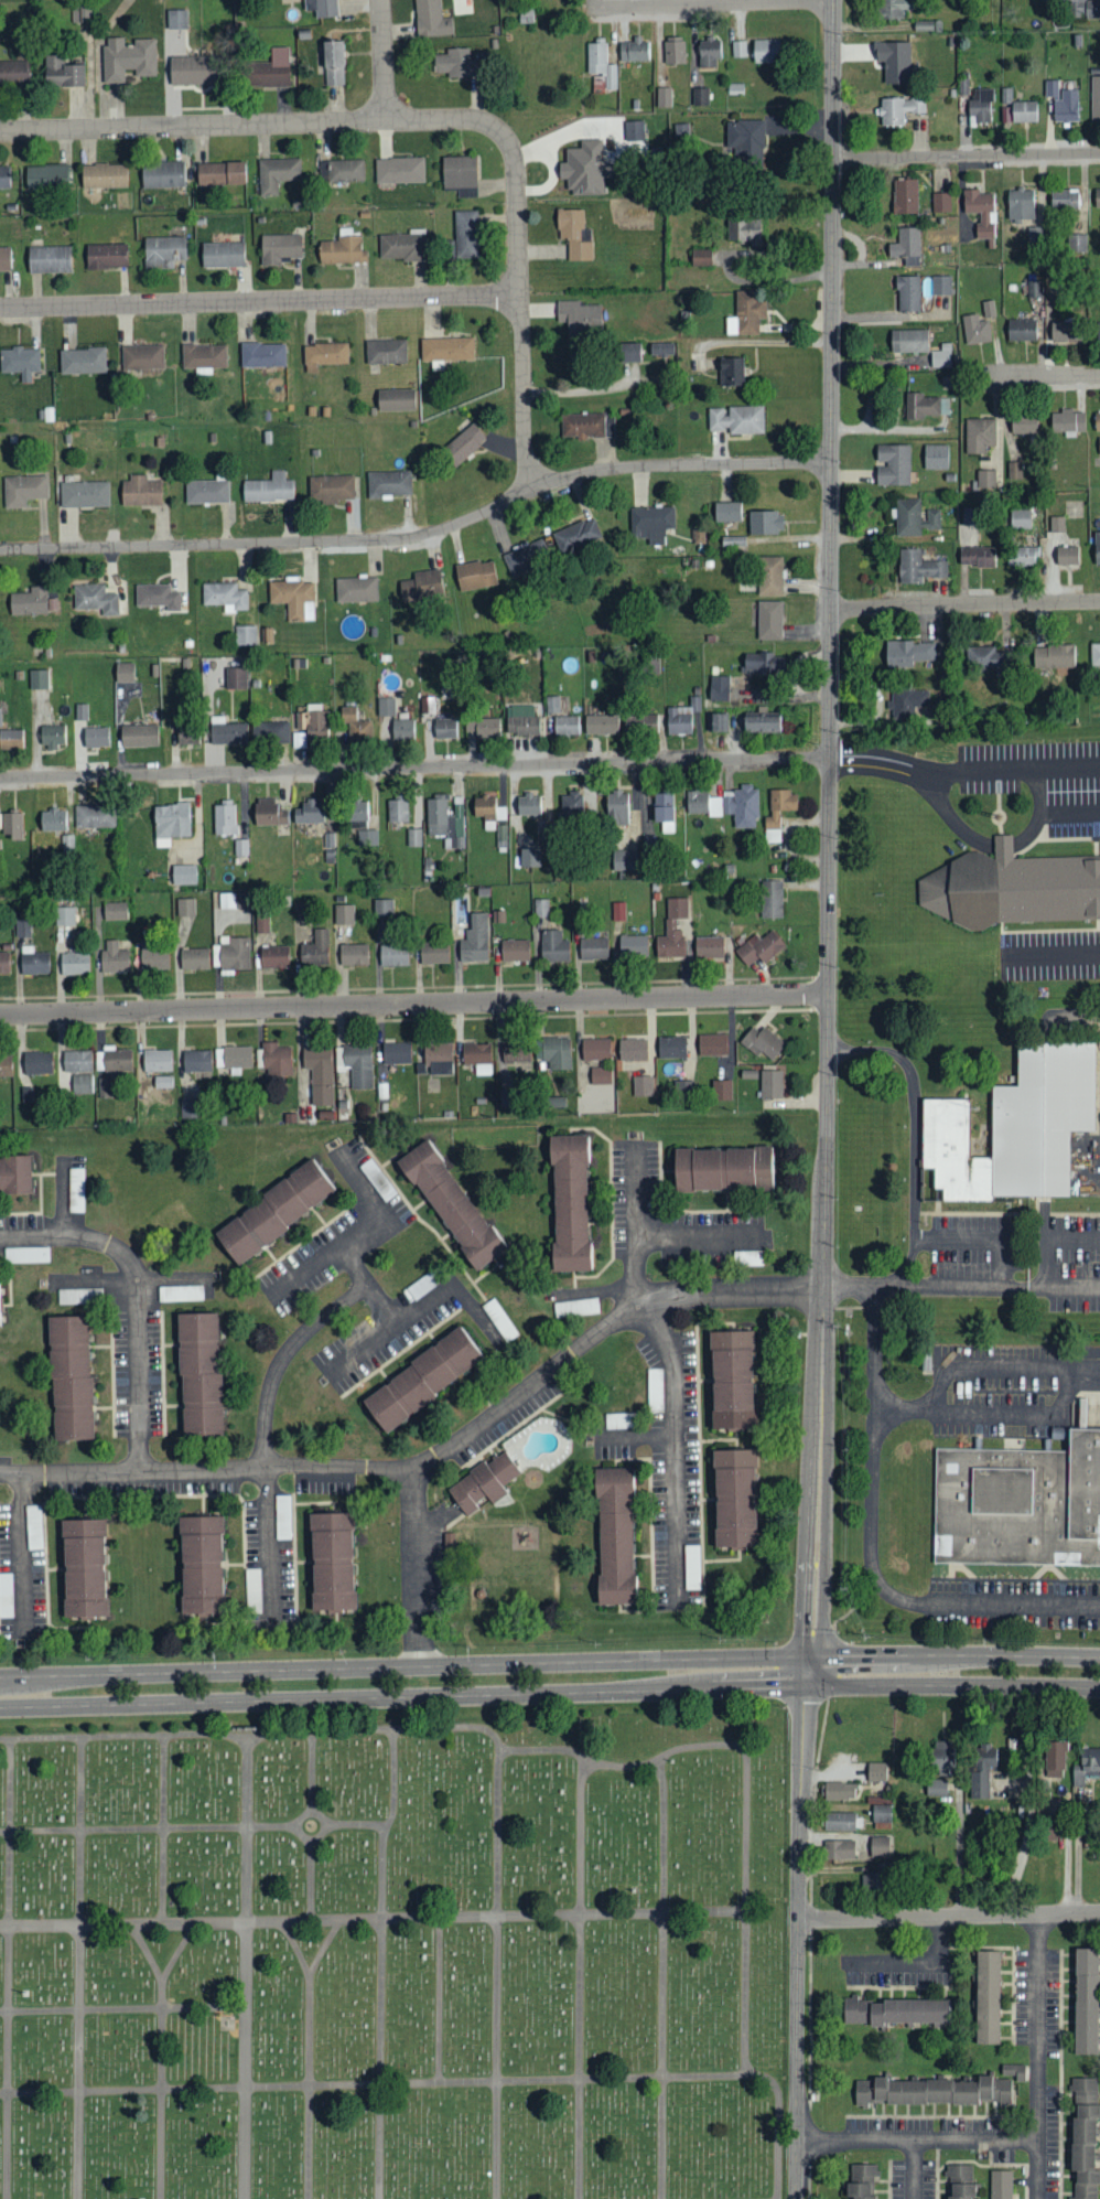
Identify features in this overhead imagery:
road: (589, 4)
road: (711, 6)
building: (995, 7)
building: (322, 8)
building: (1081, 8)
building: (892, 9)
building: (176, 19)
building: (431, 20)
building: (738, 49)
building: (635, 51)
building: (673, 51)
building: (765, 52)
building: (709, 53)
building: (128, 60)
road: (382, 60)
building: (894, 63)
building: (332, 64)
building: (459, 64)
building: (601, 64)
building: (273, 69)
building: (196, 71)
building: (13, 74)
building: (62, 74)
building: (1052, 88)
building: (701, 96)
building: (1006, 97)
building: (664, 98)
building: (1096, 99)
building: (1067, 106)
building: (981, 107)
building: (898, 110)
building: (1024, 111)
road: (252, 124)
building: (681, 130)
building: (635, 131)
building: (746, 146)
road: (967, 155)
building: (585, 169)
building: (345, 171)
building: (399, 171)
building: (220, 174)
building: (277, 174)
building: (163, 175)
building: (460, 175)
building: (4, 176)
building: (104, 176)
building: (46, 178)
building: (905, 197)
building: (1064, 200)
building: (1097, 200)
building: (941, 203)
building: (1021, 204)
building: (981, 212)
building: (744, 232)
building: (466, 235)
building: (574, 235)
building: (1077, 242)
building: (403, 246)
building: (907, 247)
building: (279, 248)
building: (342, 251)
building: (163, 253)
building: (223, 255)
building: (106, 257)
building: (701, 257)
building: (4, 259)
building: (48, 260)
building: (941, 285)
building: (1035, 288)
building: (908, 292)
road: (259, 300)
building: (989, 308)
road: (519, 309)
building: (747, 312)
building: (580, 317)
building: (975, 329)
building: (1022, 329)
building: (1098, 329)
building: (1066, 331)
building: (908, 340)
building: (661, 347)
building: (445, 350)
building: (386, 351)
building: (629, 351)
building: (325, 353)
building: (262, 354)
building: (203, 355)
building: (941, 355)
building: (142, 356)
building: (82, 360)
building: (20, 362)
building: (731, 371)
road: (1039, 376)
building: (396, 399)
building: (926, 405)
building: (737, 419)
building: (1097, 420)
building: (1068, 421)
building: (1023, 423)
building: (582, 425)
building: (980, 435)
building: (463, 443)
building: (1099, 444)
building: (936, 455)
building: (893, 464)
building: (1014, 470)
building: (985, 479)
building: (388, 483)
building: (269, 487)
building: (331, 487)
building: (22, 490)
building: (140, 491)
building: (206, 491)
building: (84, 494)
building: (727, 511)
building: (907, 516)
building: (932, 518)
building: (1020, 518)
building: (765, 522)
building: (651, 523)
building: (1057, 524)
road: (421, 533)
building: (1097, 548)
building: (1022, 555)
building: (1067, 555)
building: (525, 556)
building: (977, 556)
building: (918, 567)
building: (475, 575)
building: (769, 575)
building: (421, 586)
building: (355, 589)
building: (157, 596)
building: (224, 596)
building: (294, 598)
building: (95, 599)
building: (31, 601)
road: (964, 604)
building: (768, 619)
building: (245, 635)
building: (908, 653)
building: (1094, 654)
building: (1054, 656)
building: (986, 657)
building: (763, 663)
building: (125, 672)
building: (39, 678)
building: (228, 678)
building: (719, 687)
building: (909, 701)
building: (427, 705)
building: (82, 711)
building: (0, 717)
building: (522, 721)
building: (718, 721)
building: (393, 722)
building: (601, 723)
building: (761, 723)
building: (565, 725)
building: (317, 726)
building: (356, 726)
building: (483, 727)
building: (445, 728)
building: (270, 730)
building: (226, 731)
building: (138, 734)
building: (51, 736)
building: (96, 737)
building: (11, 738)
building: (187, 738)
building: (298, 739)
road: (1059, 765)
road: (414, 766)
road: (949, 772)
parking lot: (1040, 780)
building: (528, 803)
building: (726, 805)
building: (571, 806)
building: (616, 808)
building: (397, 811)
building: (488, 811)
building: (664, 811)
road: (1069, 811)
building: (309, 812)
building: (268, 813)
building: (778, 813)
building: (358, 814)
building: (95, 816)
building: (224, 818)
building: (52, 819)
building: (446, 820)
building: (170, 823)
building: (11, 825)
road: (829, 835)
road: (974, 836)
building: (367, 837)
building: (414, 837)
building: (649, 843)
building: (240, 847)
building: (624, 859)
building: (184, 875)
building: (1012, 887)
building: (772, 898)
building: (233, 900)
building: (384, 908)
building: (542, 908)
building: (677, 908)
building: (185, 910)
building: (115, 911)
building: (618, 911)
building: (344, 914)
building: (64, 915)
building: (261, 924)
building: (22, 927)
building: (474, 940)
building: (669, 941)
building: (633, 945)
building: (553, 946)
building: (593, 947)
building: (708, 947)
building: (759, 947)
building: (315, 950)
building: (515, 950)
building: (433, 952)
building: (231, 953)
parking lot: (1049, 953)
road: (1053, 953)
building: (352, 954)
building: (392, 954)
building: (273, 956)
building: (114, 957)
building: (153, 957)
building: (194, 958)
building: (33, 961)
building: (3, 962)
building: (74, 964)
road: (414, 1004)
building: (762, 1042)
building: (712, 1044)
building: (671, 1047)
building: (633, 1049)
building: (396, 1053)
building: (553, 1053)
building: (477, 1056)
building: (515, 1056)
building: (438, 1059)
building: (597, 1059)
building: (111, 1060)
building: (157, 1060)
building: (278, 1060)
building: (197, 1061)
building: (36, 1062)
building: (6, 1066)
building: (77, 1072)
building: (320, 1074)
building: (162, 1082)
building: (772, 1083)
building: (643, 1085)
building: (722, 1088)
building: (1017, 1126)
road: (916, 1136)
building: (723, 1169)
building: (13, 1173)
building: (76, 1190)
building: (571, 1202)
building: (452, 1208)
building: (274, 1211)
road: (636, 1222)
road: (984, 1234)
road: (701, 1236)
road: (331, 1254)
building: (26, 1255)
building: (747, 1257)
road: (368, 1287)
road: (961, 1289)
building: (180, 1292)
building: (79, 1296)
road: (136, 1297)
building: (575, 1308)
road: (390, 1330)
road: (283, 1356)
road: (981, 1370)
building: (199, 1373)
building: (69, 1376)
building: (731, 1379)
building: (422, 1380)
building: (655, 1391)
road: (1005, 1409)
building: (619, 1420)
road: (676, 1450)
road: (435, 1455)
building: (481, 1482)
building: (735, 1497)
building: (1018, 1502)
building: (615, 1535)
road: (270, 1547)
road: (871, 1551)
road: (23, 1553)
building: (331, 1560)
building: (201, 1564)
building: (83, 1567)
road: (416, 1575)
building: (252, 1590)
traffic signals: (808, 1671)
road: (953, 1671)
road: (614, 1676)
road: (211, 1686)
road: (533, 1750)
building: (941, 1757)
building: (1055, 1759)
building: (1086, 1766)
building: (981, 1769)
road: (313, 1771)
building: (876, 1771)
building: (936, 1787)
building: (839, 1790)
building: (881, 1813)
building: (838, 1821)
road: (357, 1825)
road: (298, 1826)
road: (148, 1828)
road: (163, 1830)
building: (880, 1846)
building: (840, 1848)
road: (312, 1880)
road: (948, 1914)
road: (373, 1919)
road: (797, 1934)
road: (295, 1948)
road: (145, 1952)
park: (395, 1956)
road: (909, 1960)
road: (381, 1962)
road: (79, 1967)
road: (9, 1969)
road: (247, 1970)
road: (497, 1973)
road: (662, 1978)
road: (580, 1980)
building: (988, 1996)
building: (1086, 1999)
road: (440, 2000)
road: (122, 2008)
building: (898, 2008)
road: (310, 2055)
road: (161, 2056)
road: (1038, 2056)
road: (387, 2083)
building: (935, 2089)
building: (1083, 2138)
road: (779, 2139)
road: (917, 2139)
road: (914, 2169)
building: (862, 2180)
building: (959, 2180)
building: (1002, 2184)

